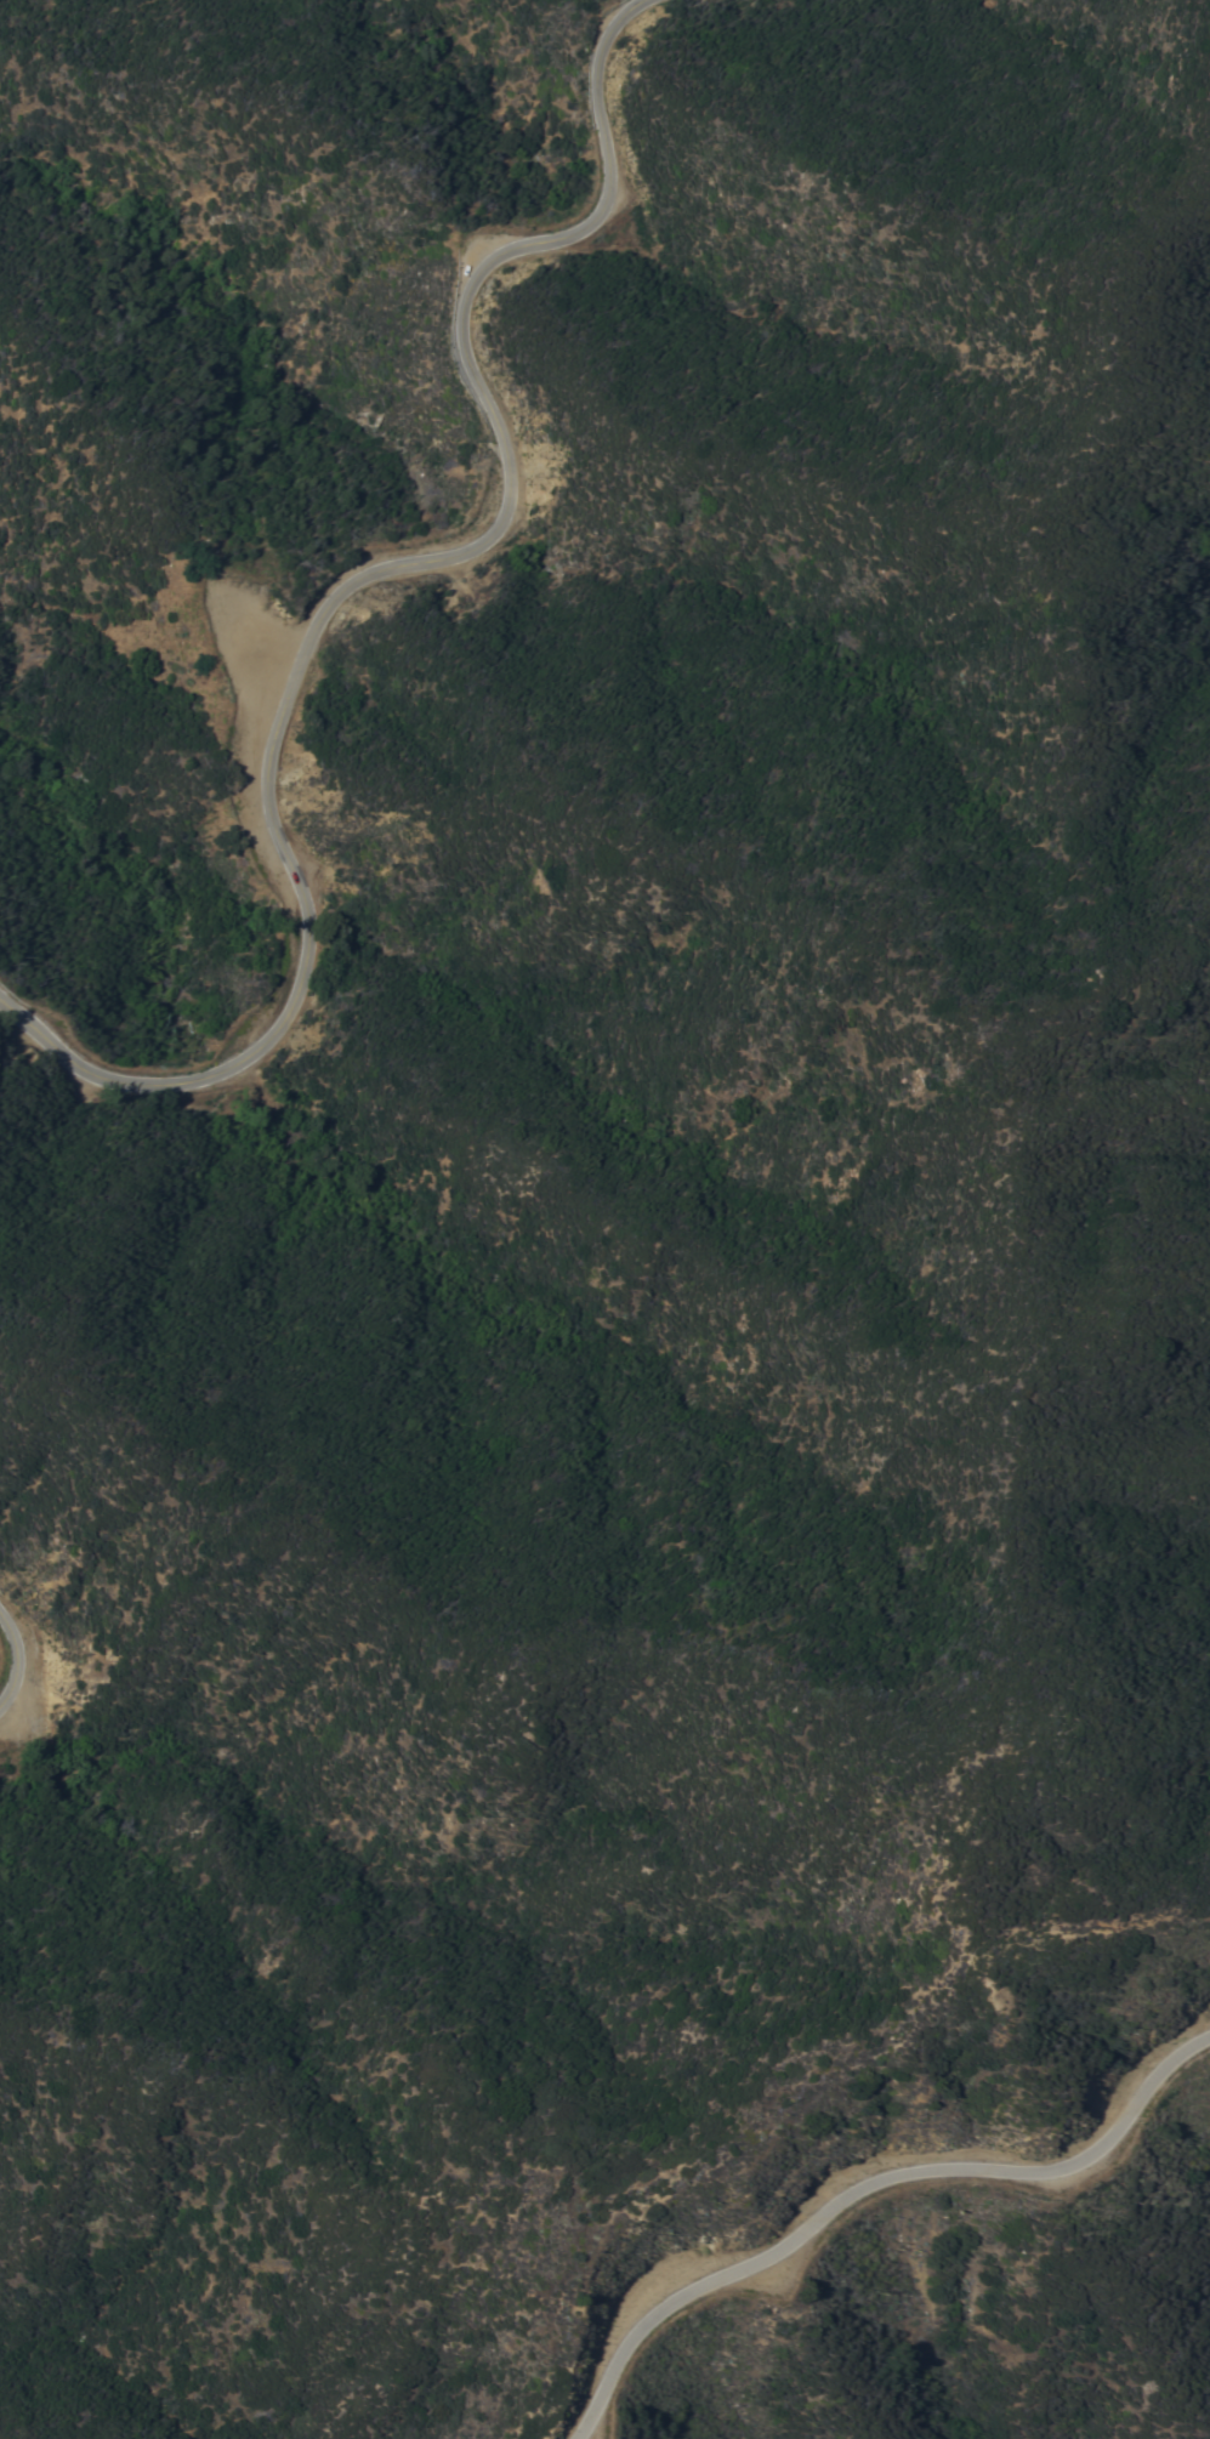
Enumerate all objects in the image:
road: (350, 586)
road: (15, 1659)
road: (867, 2188)

